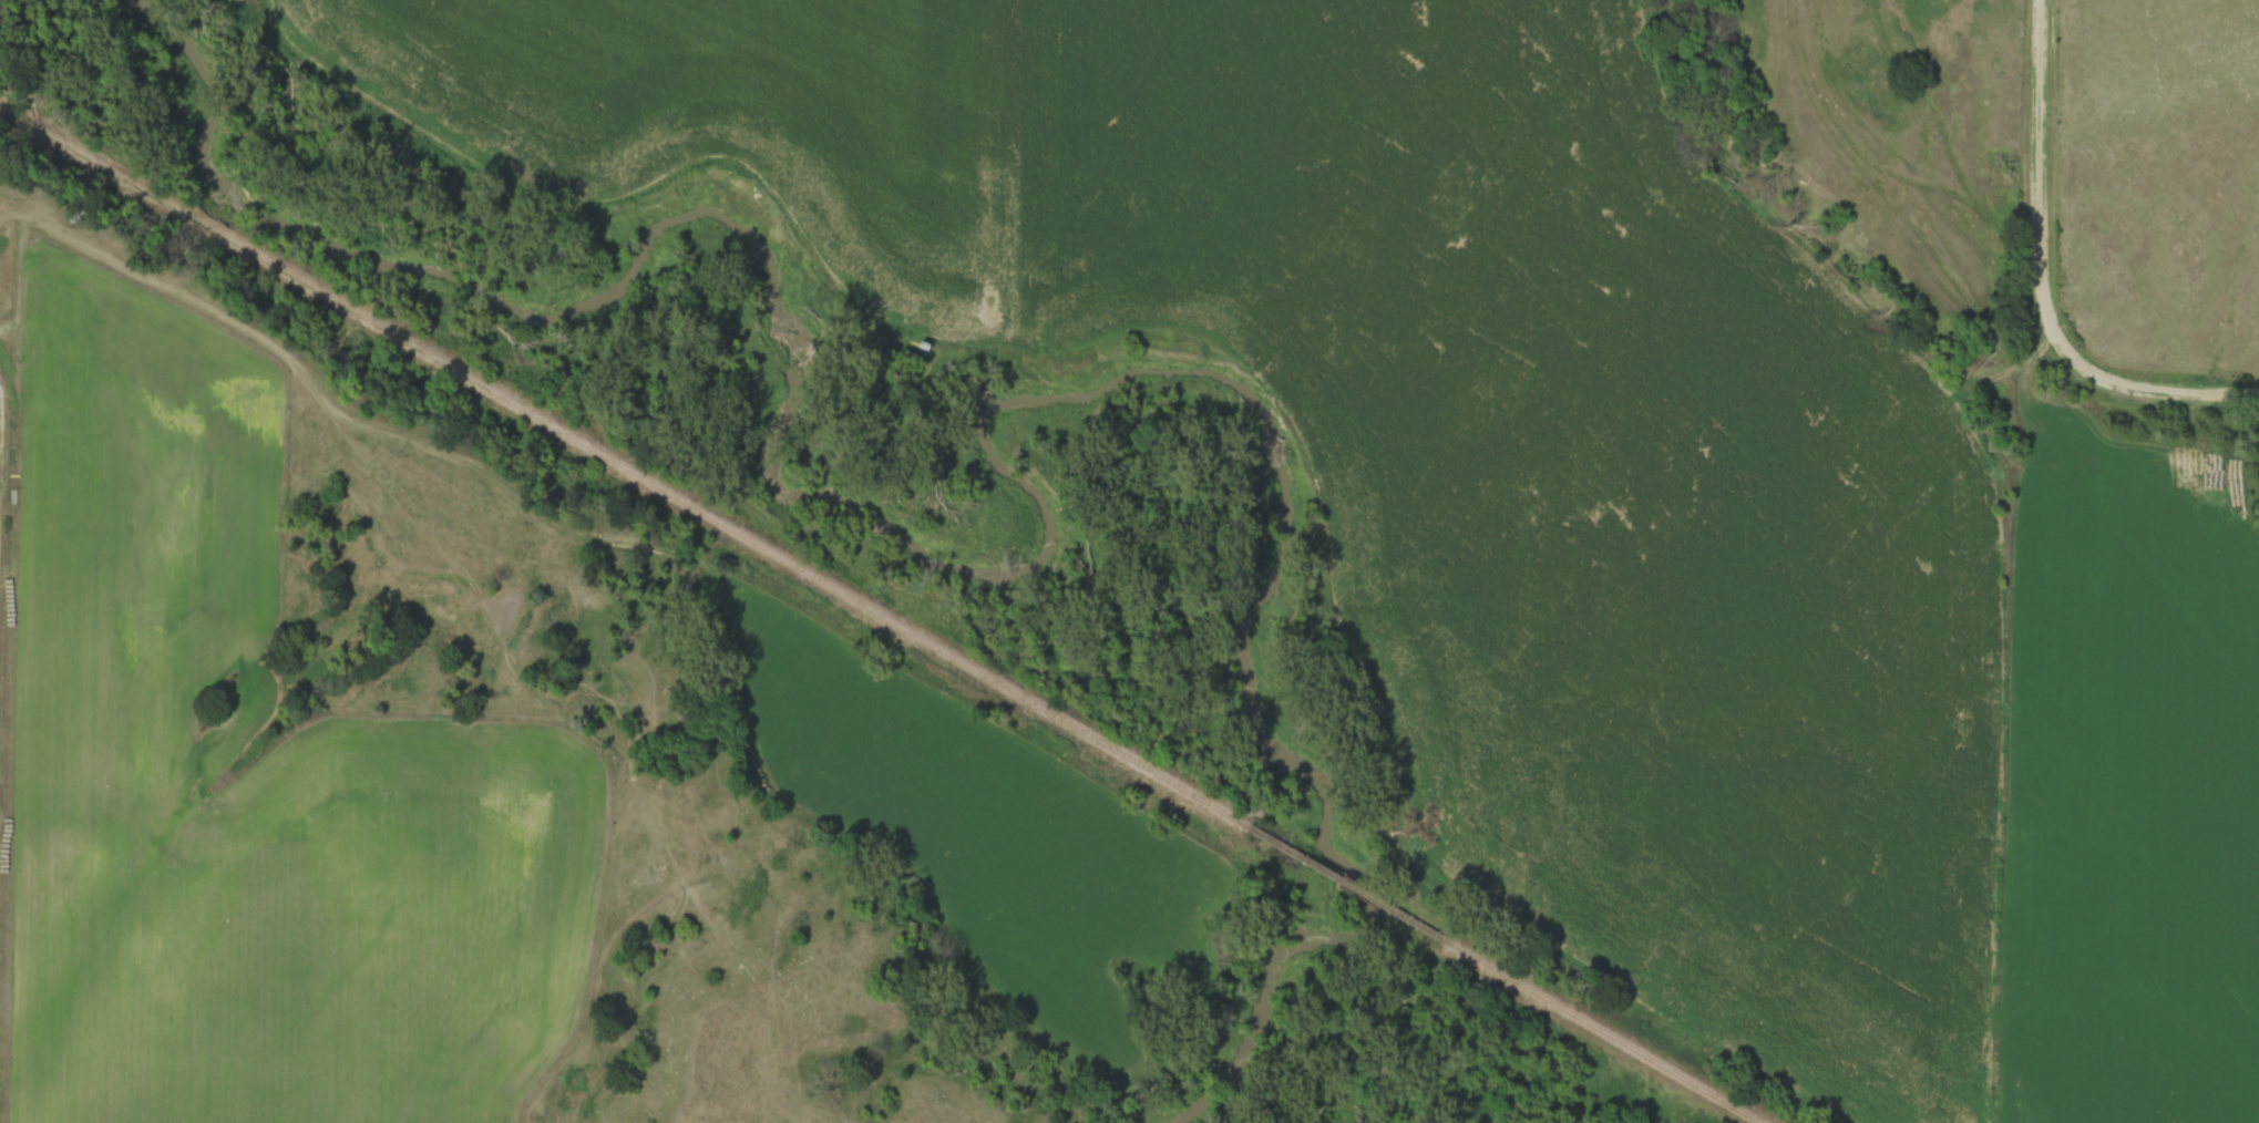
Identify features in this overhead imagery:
crop: (725, 114)
road: (2039, 143)
road: (2122, 381)
railway: (632, 468)
crop: (1582, 492)
crop: (2139, 805)
railway: (1362, 893)
railway: (1609, 1037)

